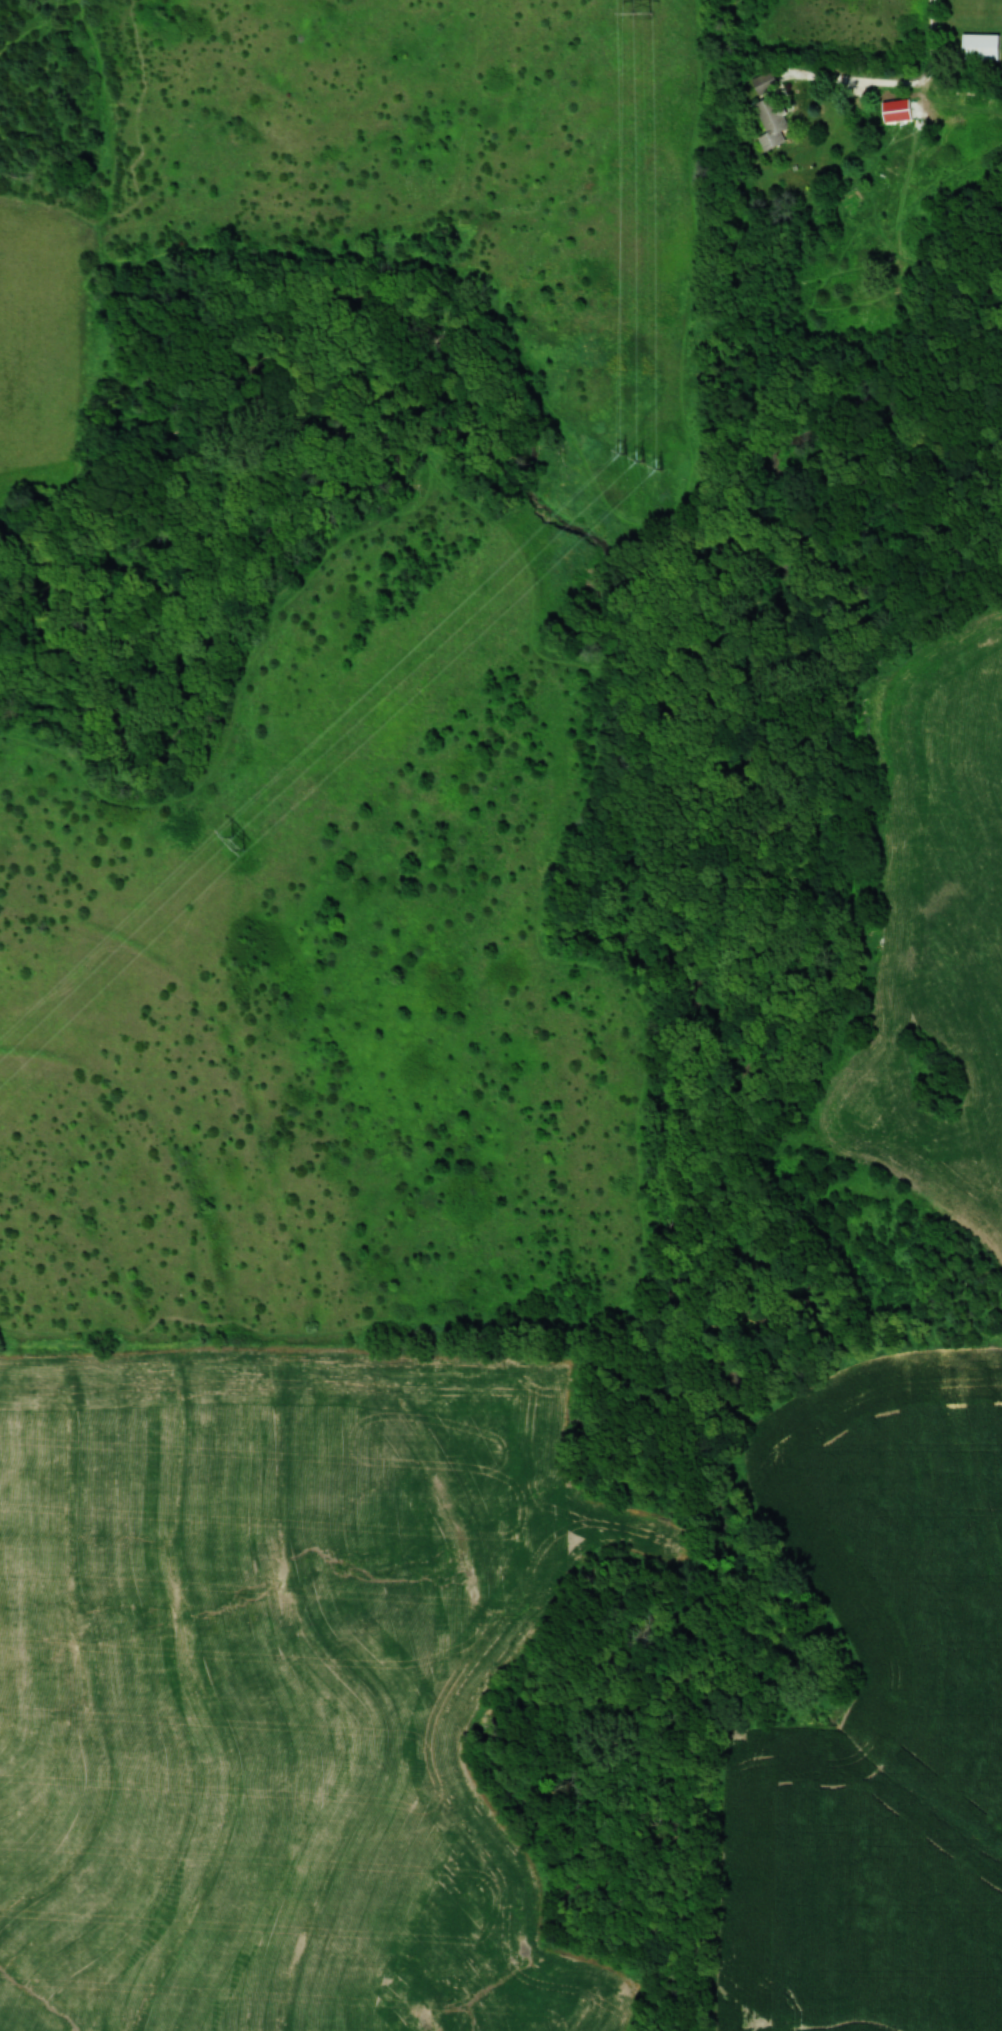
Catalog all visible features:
power tower: (648, 13)
building: (979, 46)
building: (764, 82)
road: (900, 84)
building: (771, 121)
power tower: (649, 459)
power tower: (244, 846)
crop: (279, 1688)
crop: (877, 1712)

